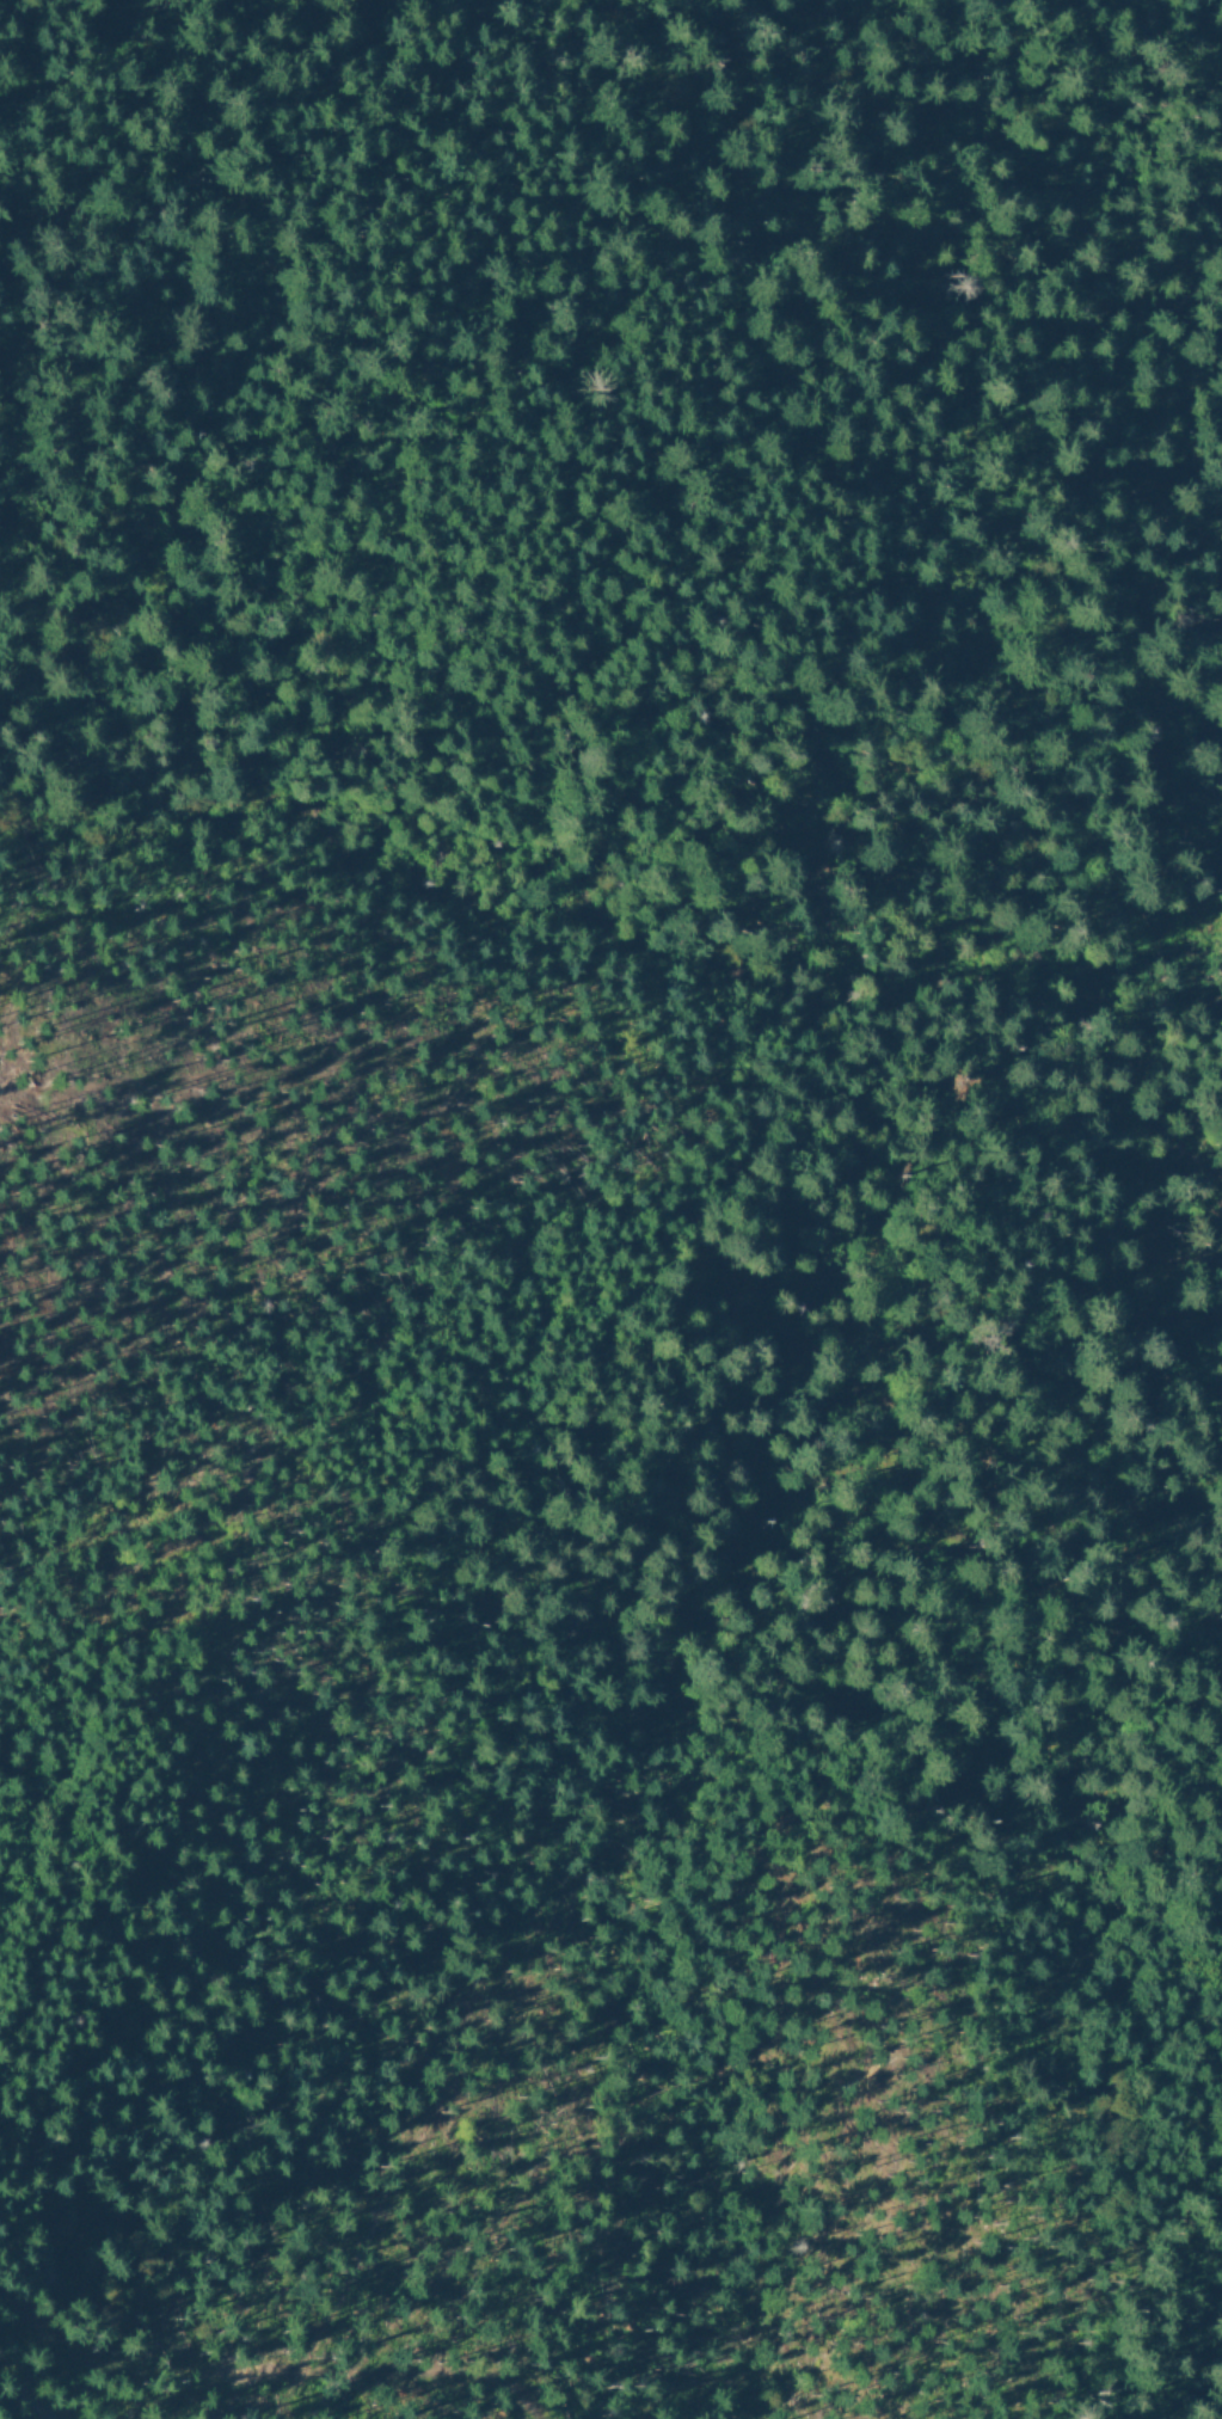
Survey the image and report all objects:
road: (872, 403)
road: (90, 2377)

